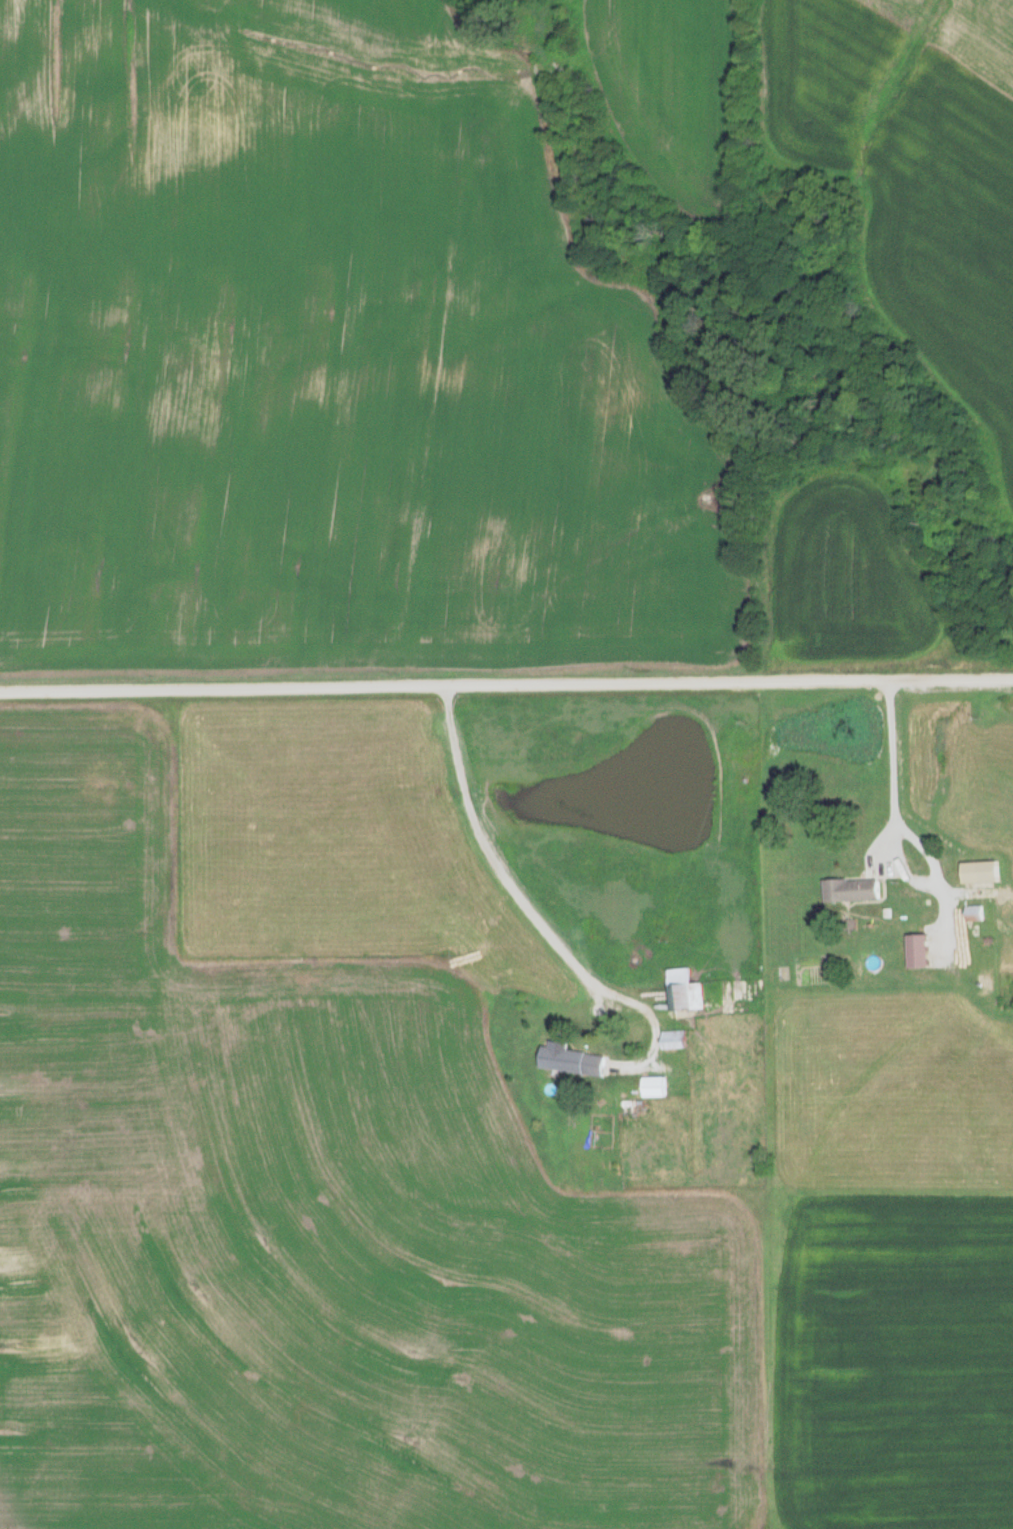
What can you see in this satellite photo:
road: (506, 682)
road: (565, 719)
road: (889, 752)
building: (981, 869)
building: (851, 887)
road: (508, 888)
building: (974, 911)
building: (917, 949)
building: (684, 989)
building: (673, 1038)
building: (563, 1057)
building: (652, 1084)

